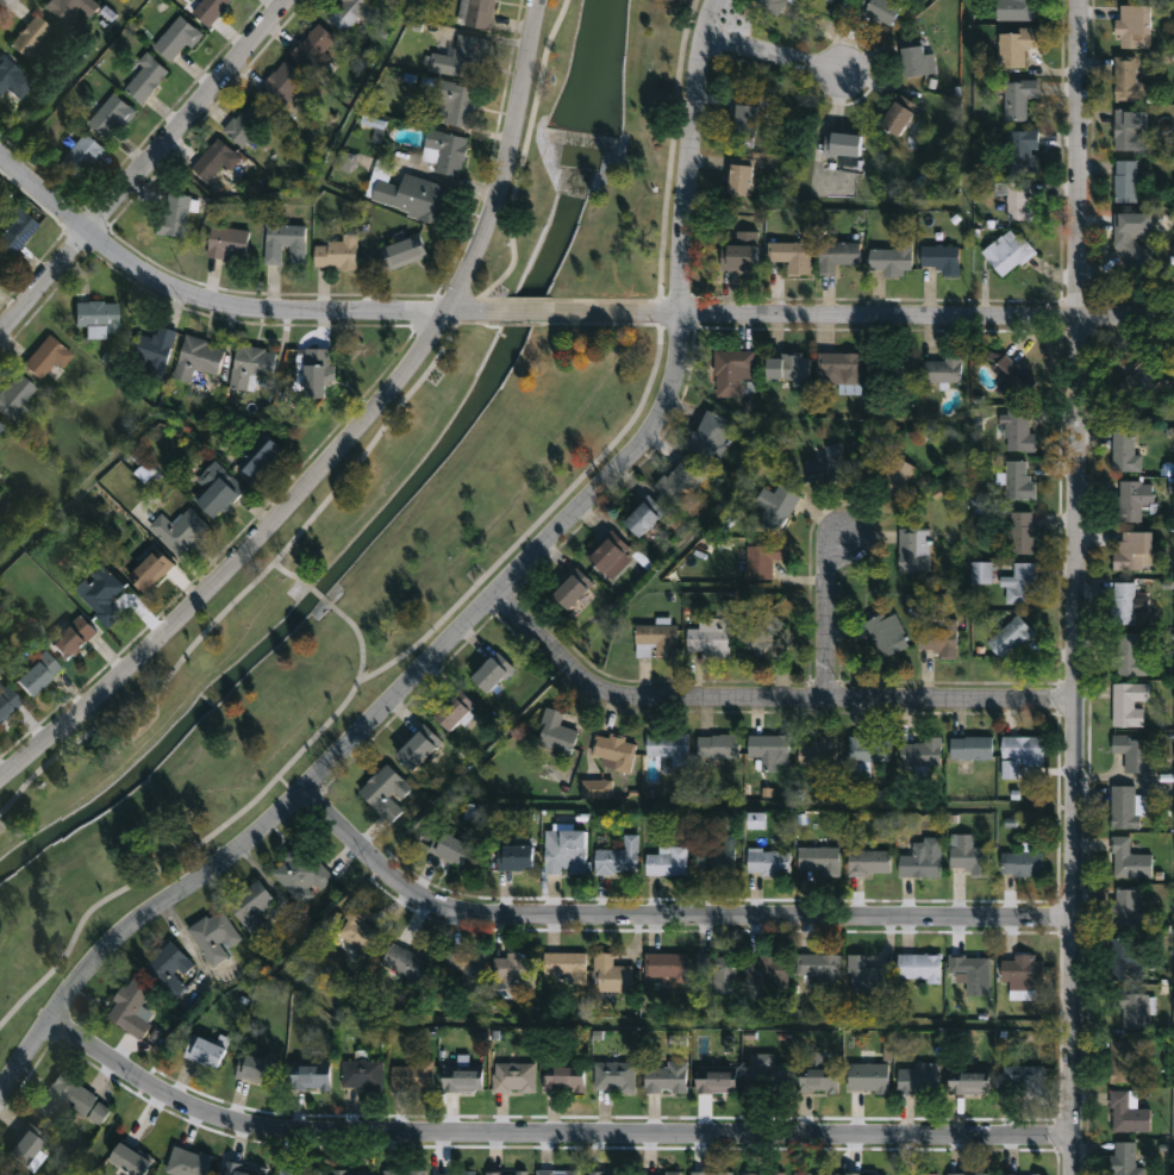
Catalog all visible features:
building: (770, 6)
building: (70, 8)
building: (205, 8)
building: (880, 11)
building: (1016, 11)
building: (352, 13)
building: (480, 13)
building: (1132, 27)
road: (843, 29)
building: (30, 38)
building: (176, 39)
road: (768, 40)
building: (1014, 45)
building: (313, 48)
building: (464, 58)
building: (912, 62)
road: (67, 76)
building: (145, 79)
building: (12, 80)
building: (1126, 81)
building: (282, 85)
building: (1017, 99)
building: (455, 102)
building: (898, 117)
building: (110, 118)
building: (744, 119)
building: (245, 124)
building: (1129, 131)
building: (842, 145)
building: (443, 152)
building: (1023, 152)
road: (0, 154)
building: (80, 158)
building: (214, 162)
road: (142, 163)
road: (522, 164)
road: (320, 176)
building: (738, 180)
building: (1125, 182)
building: (412, 196)
building: (1017, 200)
road: (664, 202)
building: (174, 215)
building: (14, 230)
building: (1132, 238)
building: (227, 243)
building: (285, 244)
building: (1007, 251)
building: (402, 252)
building: (739, 252)
building: (337, 254)
building: (791, 255)
building: (836, 255)
building: (891, 257)
building: (939, 258)
building: (1, 263)
road: (525, 299)
road: (219, 302)
road: (517, 312)
road: (858, 314)
building: (95, 319)
road: (514, 323)
building: (151, 351)
building: (195, 357)
building: (44, 360)
building: (249, 365)
building: (892, 368)
building: (787, 369)
building: (941, 369)
building: (730, 370)
building: (839, 370)
building: (316, 373)
building: (1008, 377)
building: (1135, 380)
building: (13, 395)
road: (835, 419)
building: (0, 427)
road: (136, 429)
building: (1012, 430)
building: (710, 433)
road: (341, 435)
building: (1124, 451)
building: (257, 457)
building: (825, 464)
building: (894, 477)
building: (680, 480)
building: (1018, 481)
building: (216, 489)
building: (1132, 500)
building: (775, 506)
park: (383, 508)
building: (643, 519)
building: (179, 530)
building: (1022, 532)
building: (910, 550)
building: (1132, 551)
building: (610, 557)
building: (762, 558)
building: (149, 571)
building: (981, 573)
road: (288, 576)
road: (262, 577)
building: (1019, 585)
road: (895, 586)
road: (1070, 587)
building: (572, 589)
road: (314, 592)
building: (101, 595)
road: (476, 604)
building: (1123, 604)
road: (824, 611)
building: (886, 633)
road: (355, 635)
building: (761, 636)
building: (1010, 637)
building: (71, 639)
building: (939, 639)
building: (656, 640)
building: (706, 642)
building: (1129, 654)
road: (400, 658)
building: (491, 673)
building: (36, 674)
road: (760, 694)
building: (7, 701)
building: (1128, 704)
building: (452, 711)
road: (1010, 715)
building: (554, 733)
building: (714, 746)
building: (417, 748)
building: (970, 748)
building: (768, 749)
building: (868, 749)
building: (668, 750)
building: (1132, 750)
building: (612, 751)
building: (819, 752)
building: (920, 752)
building: (1014, 756)
road: (469, 760)
road: (1042, 771)
building: (385, 792)
road: (762, 804)
building: (1125, 807)
building: (449, 848)
building: (563, 851)
building: (968, 855)
building: (716, 856)
building: (513, 857)
building: (617, 857)
building: (922, 858)
building: (819, 860)
building: (1128, 860)
building: (667, 861)
building: (767, 861)
building: (869, 862)
building: (1022, 864)
building: (300, 874)
building: (250, 907)
building: (1124, 908)
road: (661, 910)
building: (357, 929)
building: (213, 936)
building: (1126, 958)
building: (404, 962)
building: (461, 962)
building: (563, 964)
building: (666, 964)
building: (512, 968)
building: (918, 968)
building: (168, 969)
building: (819, 969)
building: (769, 973)
building: (973, 973)
building: (1022, 973)
building: (611, 974)
building: (722, 975)
building: (864, 976)
building: (130, 1007)
building: (1129, 1008)
road: (208, 1011)
road: (599, 1020)
building: (204, 1051)
building: (1123, 1061)
building: (254, 1068)
building: (360, 1074)
building: (816, 1074)
building: (308, 1076)
building: (614, 1076)
building: (767, 1076)
building: (410, 1077)
building: (514, 1077)
building: (666, 1077)
building: (867, 1077)
building: (461, 1079)
building: (563, 1079)
building: (918, 1079)
building: (1023, 1080)
building: (714, 1081)
building: (968, 1083)
building: (70, 1100)
building: (1126, 1112)
road: (544, 1130)
building: (26, 1149)
building: (127, 1160)
building: (1124, 1160)
building: (185, 1163)
building: (242, 1169)
building: (299, 1171)
building: (349, 1173)
building: (402, 1173)
building: (454, 1173)
building: (506, 1173)
building: (557, 1173)
building: (597, 1173)
building: (714, 1173)
building: (660, 1174)
building: (763, 1174)
building: (812, 1174)
building: (864, 1174)
building: (968, 1174)
building: (1020, 1174)

